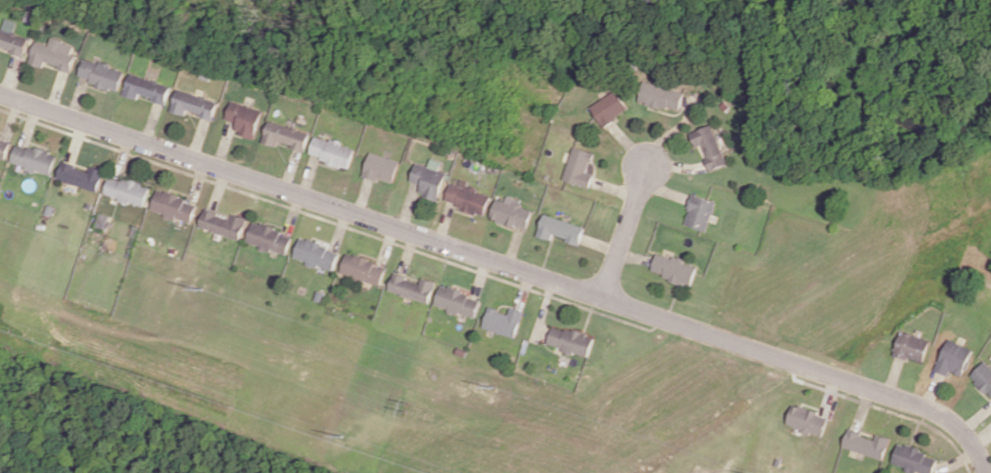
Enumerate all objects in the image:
building: (54, 53)
building: (102, 74)
building: (147, 88)
building: (660, 96)
building: (194, 104)
building: (608, 107)
building: (245, 118)
building: (285, 135)
building: (4, 145)
building: (709, 145)
building: (330, 151)
building: (34, 158)
building: (579, 166)
building: (380, 167)
building: (82, 175)
building: (428, 178)
building: (127, 190)
building: (467, 197)
building: (174, 206)
building: (511, 212)
building: (699, 212)
building: (102, 221)
building: (223, 223)
building: (559, 229)
road: (624, 234)
building: (269, 238)
building: (316, 254)
road: (505, 266)
building: (362, 269)
building: (673, 269)
building: (411, 287)
building: (457, 301)
building: (503, 321)
building: (570, 340)
building: (911, 346)
building: (953, 357)
building: (983, 376)
building: (805, 419)
power tower: (340, 436)
building: (866, 443)
building: (914, 459)

